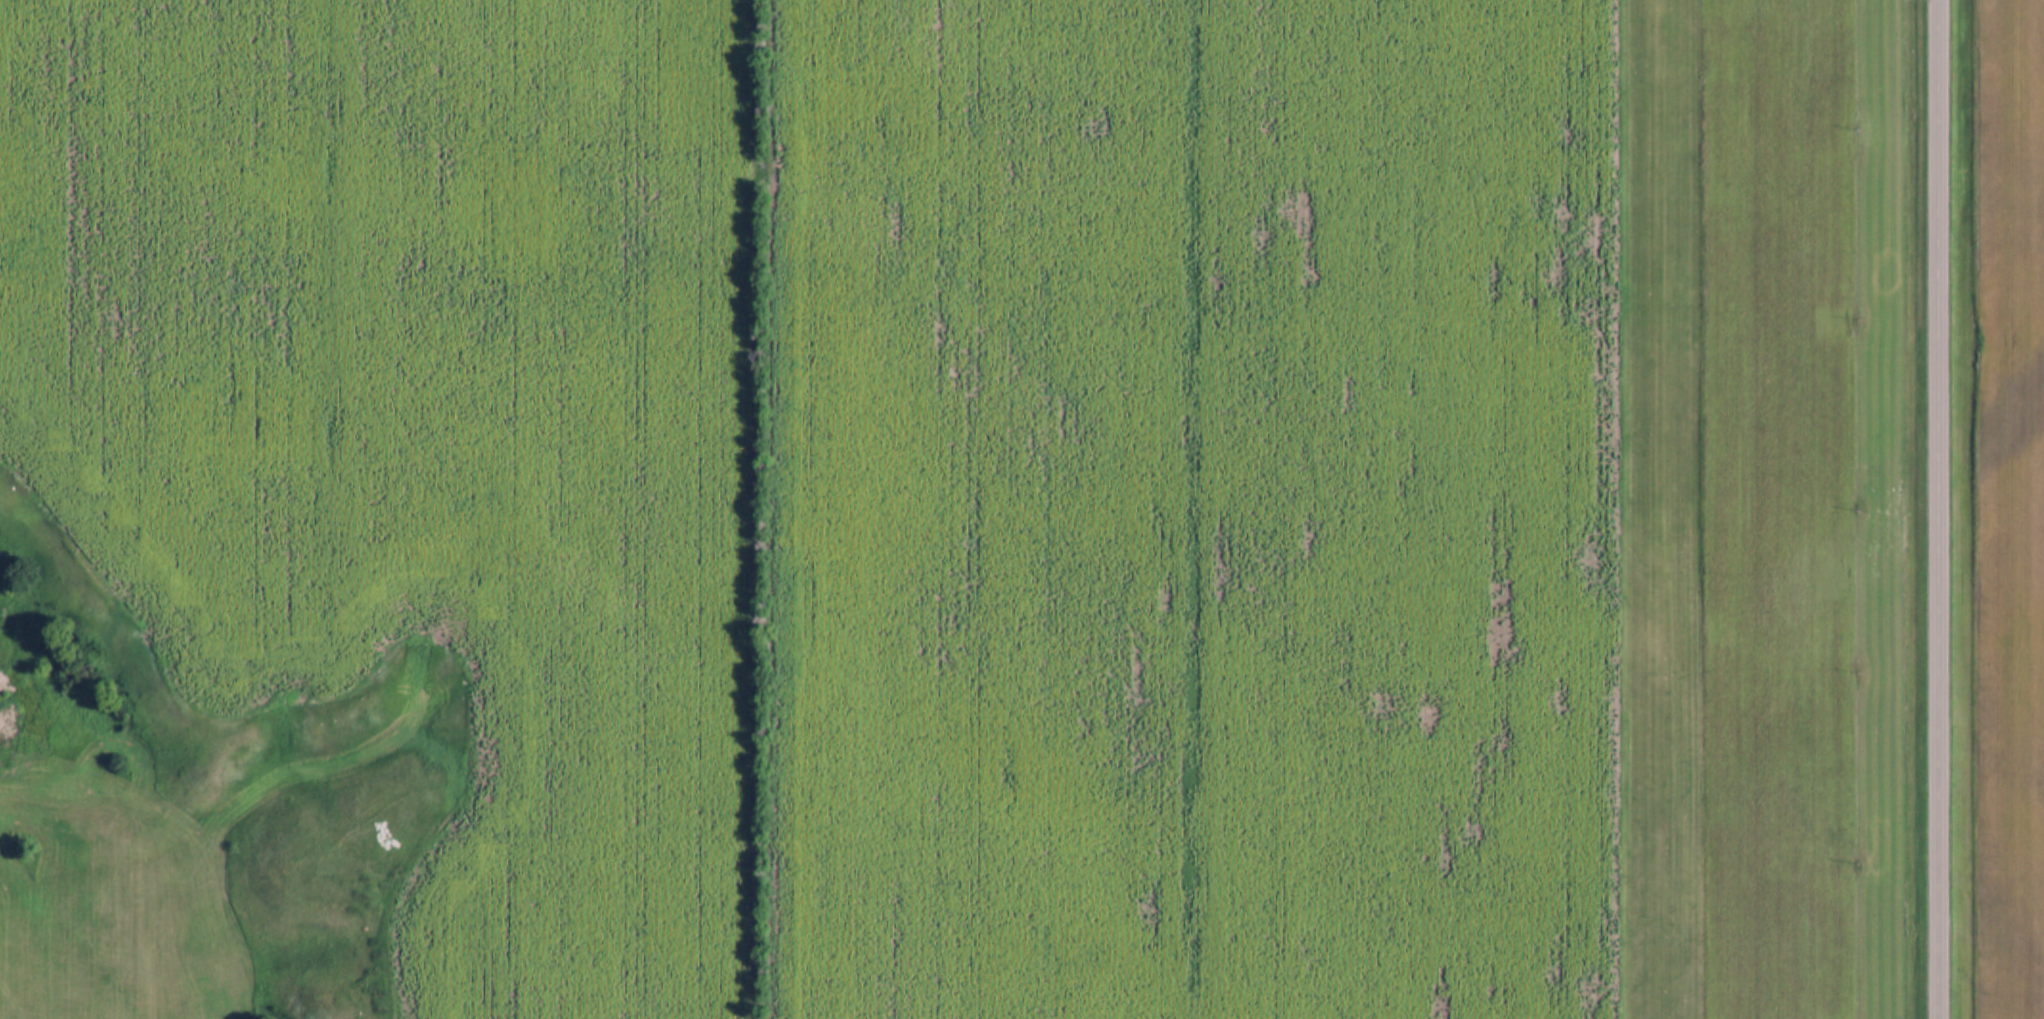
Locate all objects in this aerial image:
airport: (1658, 509)
airport runway: (1658, 509)
road: (1938, 509)

